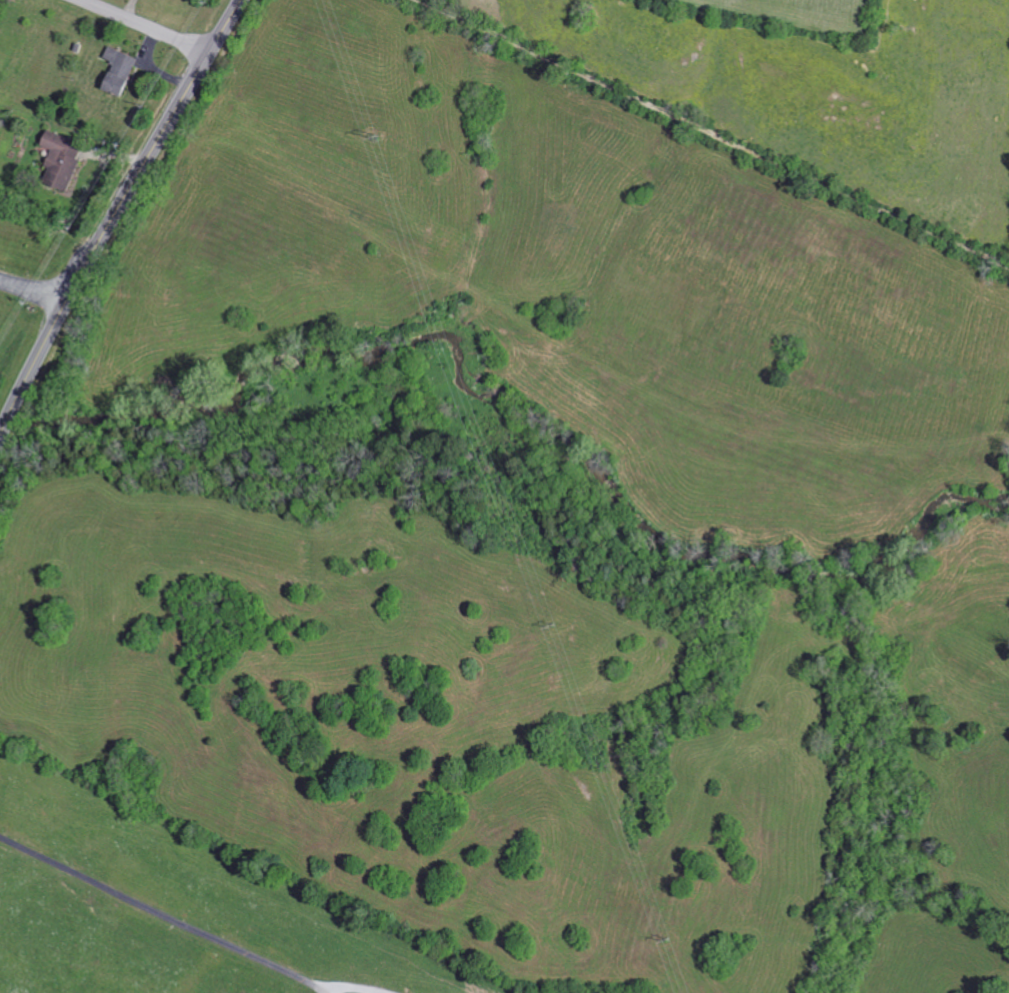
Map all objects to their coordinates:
road: (148, 26)
building: (124, 70)
power tower: (373, 131)
road: (712, 134)
building: (66, 159)
road: (114, 218)
road: (34, 290)
power tower: (552, 622)
power tower: (665, 938)

